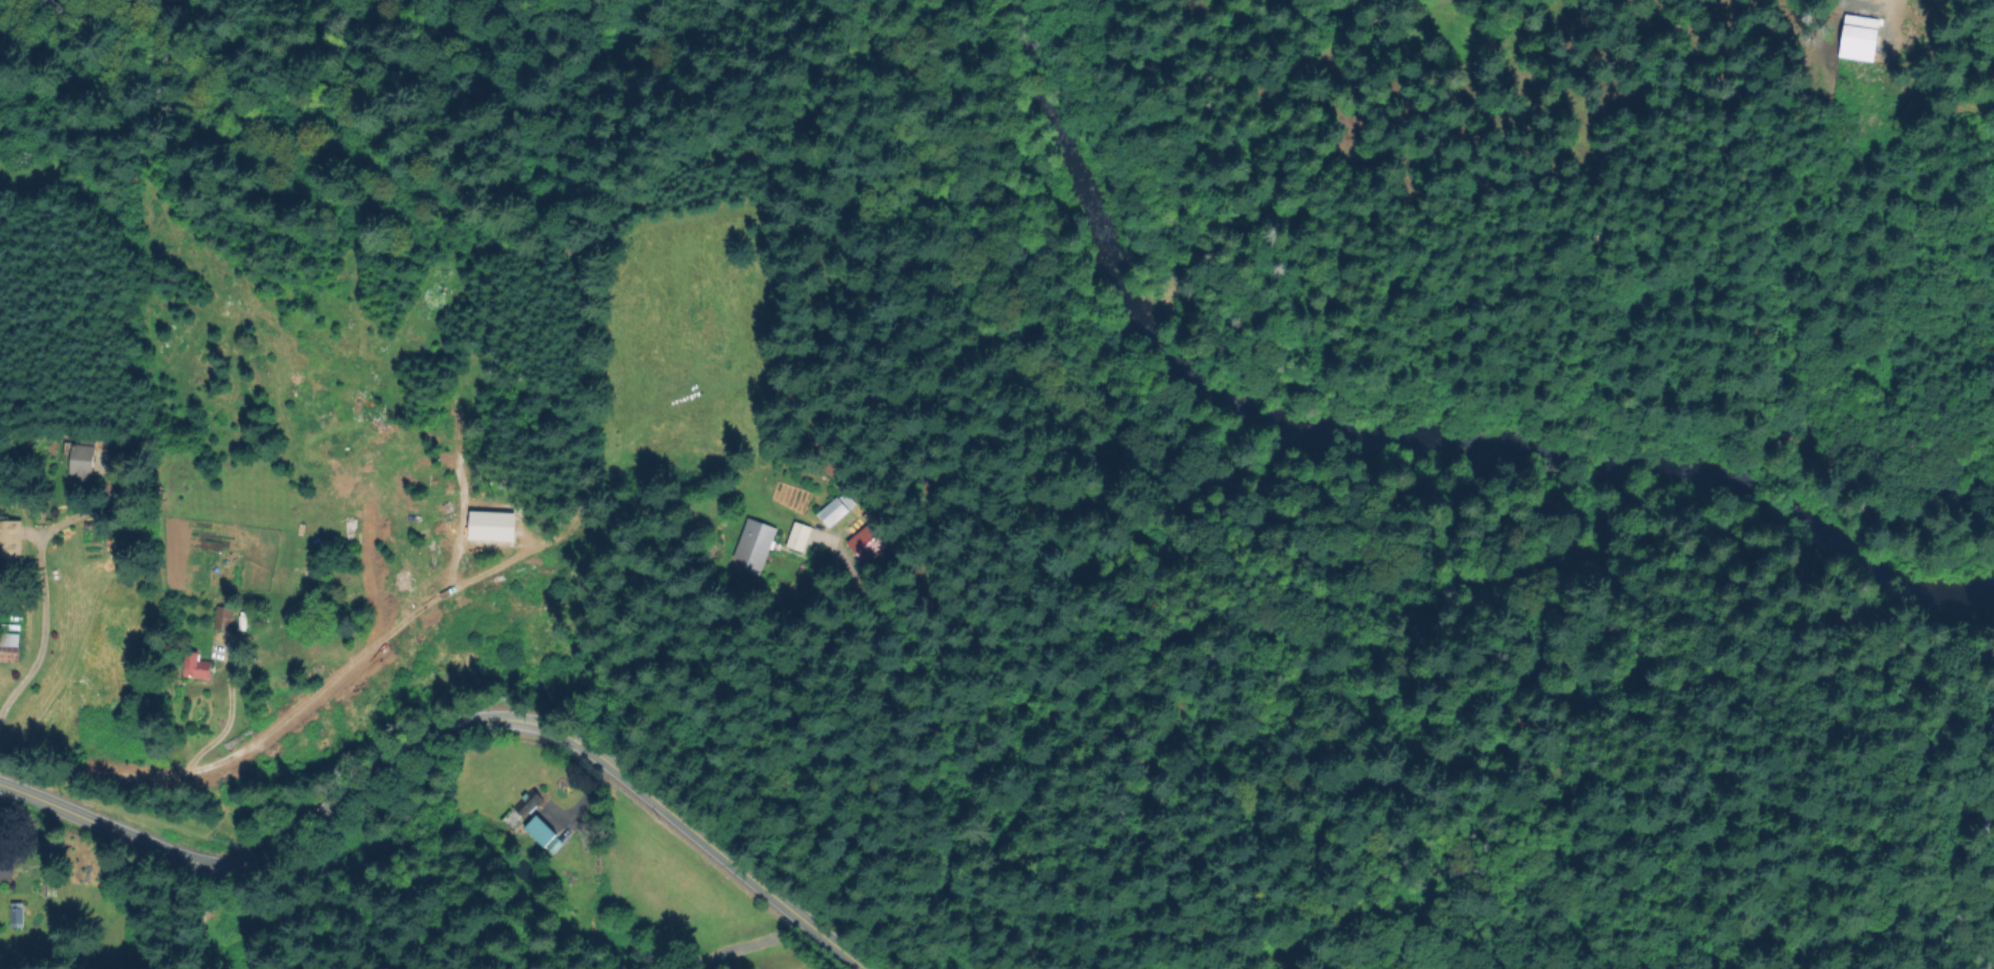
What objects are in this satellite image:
building: (1857, 39)
building: (69, 434)
building: (82, 458)
building: (832, 512)
building: (89, 524)
building: (798, 536)
building: (755, 545)
building: (306, 569)
road: (33, 586)
building: (224, 619)
building: (244, 622)
building: (9, 649)
building: (196, 666)
road: (283, 717)
road: (447, 726)
building: (529, 803)
building: (541, 831)
building: (17, 914)
road: (750, 941)

